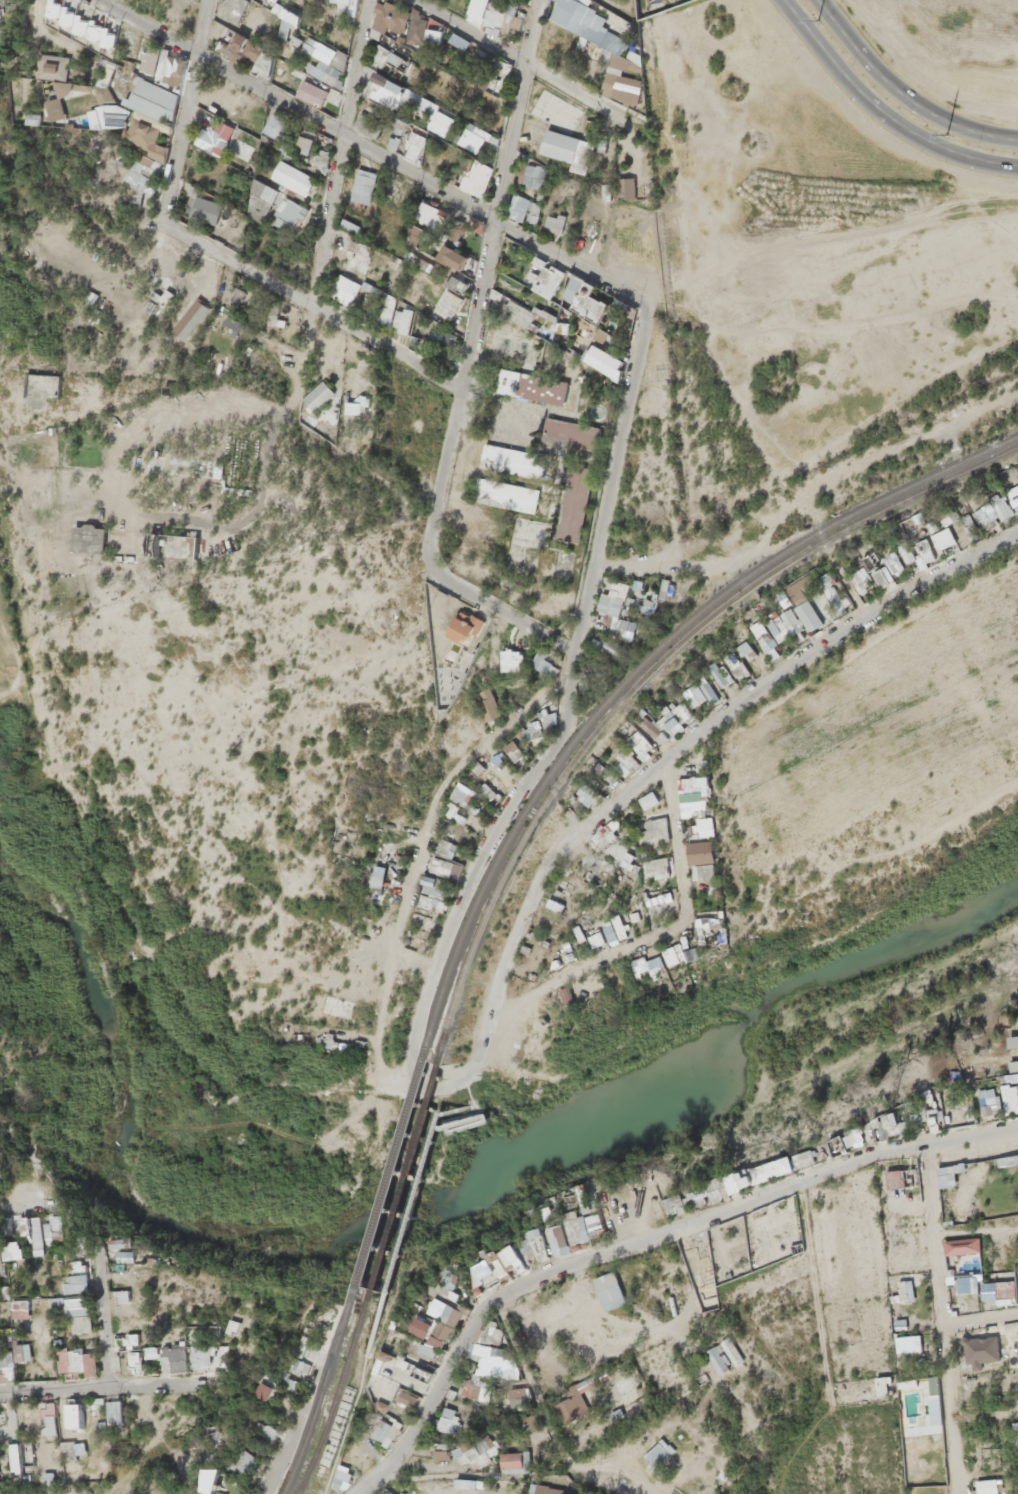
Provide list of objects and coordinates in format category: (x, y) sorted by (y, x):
river: (415, 1218)

